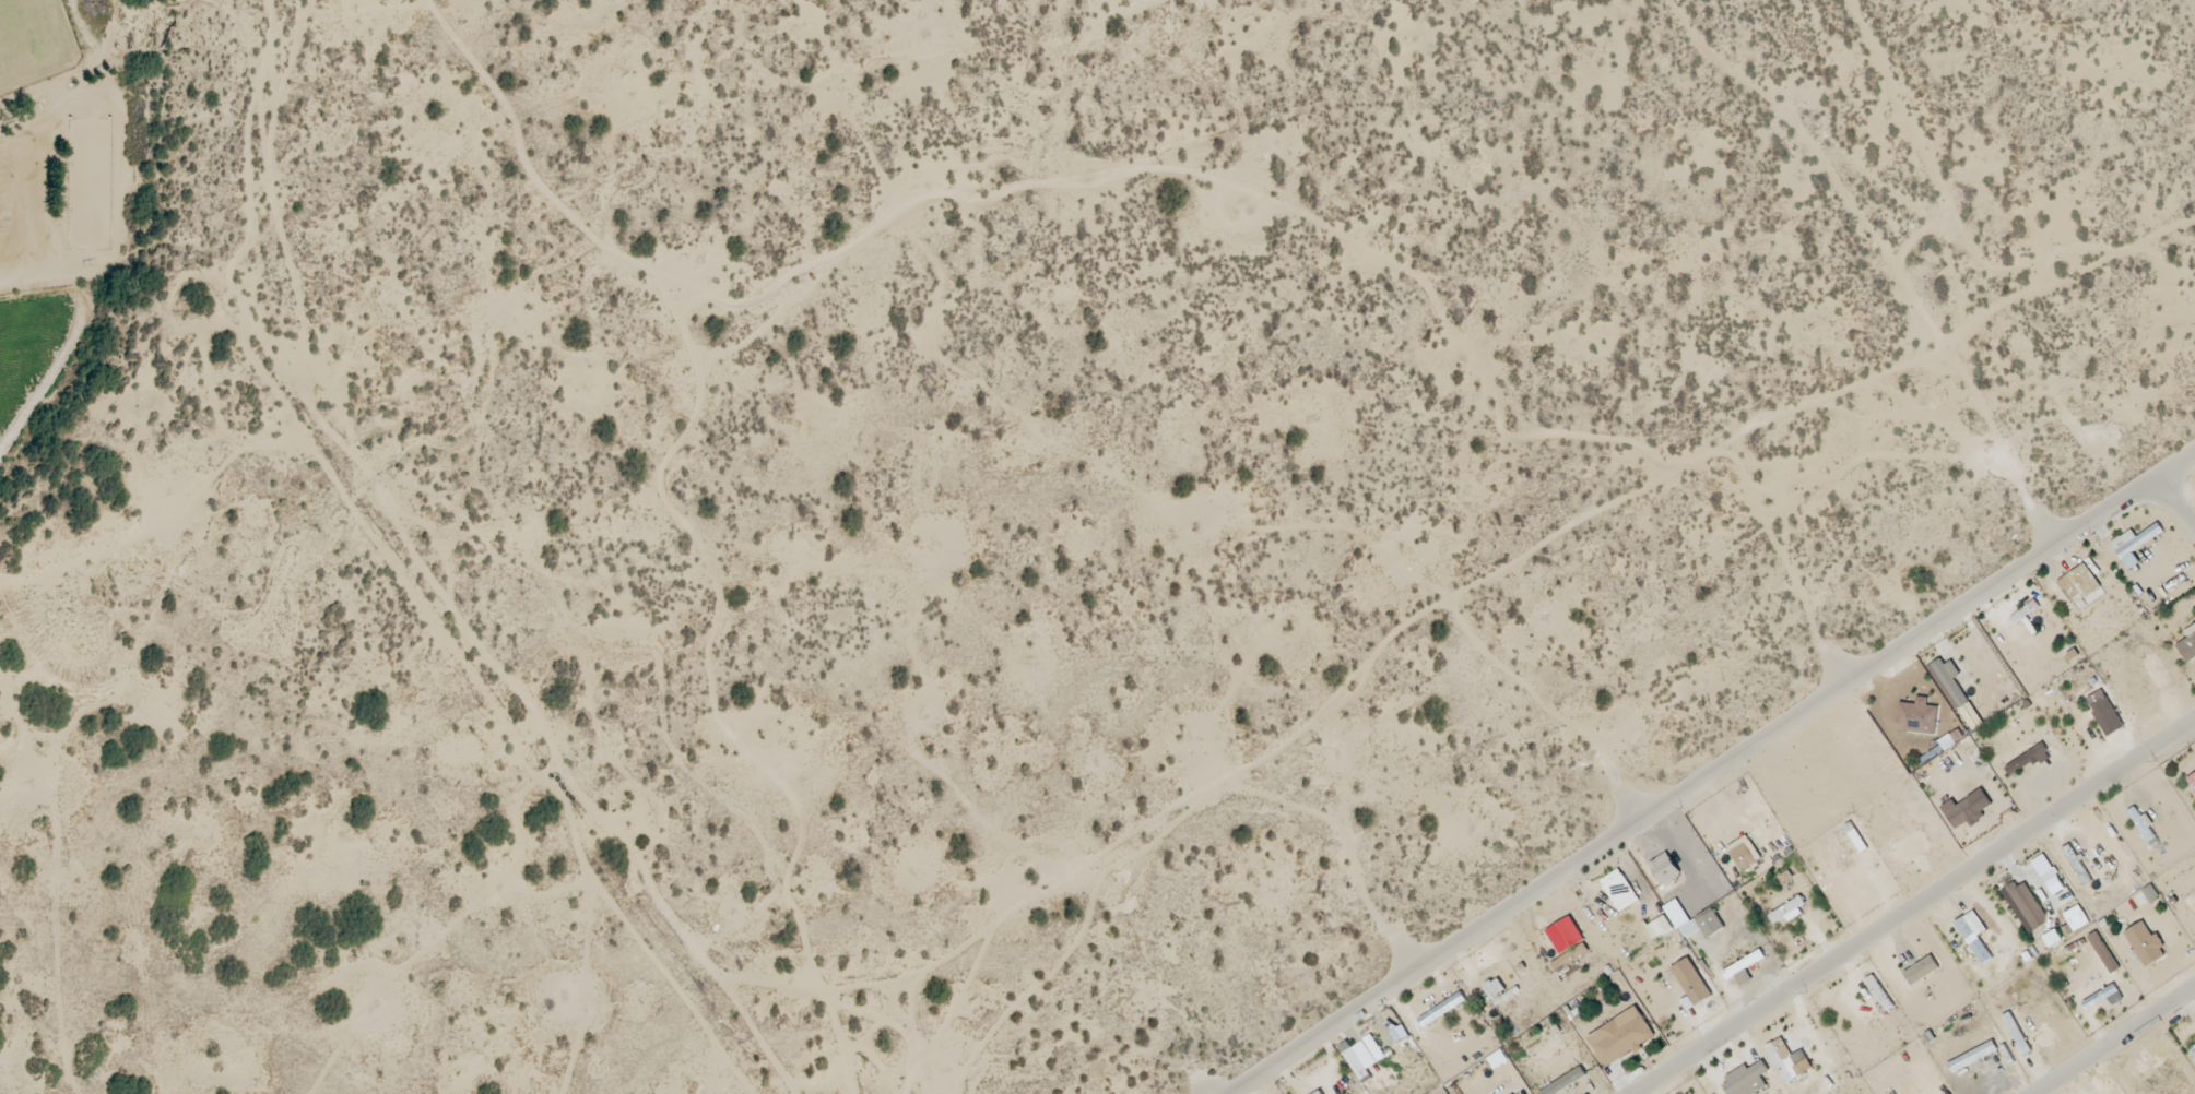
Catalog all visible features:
road: (2169, 485)
road: (2035, 513)
building: (2134, 545)
building: (2188, 645)
road: (1828, 651)
building: (1957, 692)
building: (2099, 701)
building: (1919, 716)
building: (1950, 739)
building: (2027, 759)
road: (1698, 762)
building: (2192, 782)
road: (1622, 789)
building: (1961, 813)
building: (2141, 824)
building: (1744, 857)
building: (1664, 869)
building: (2048, 875)
building: (1619, 890)
road: (1898, 895)
building: (2028, 906)
building: (1789, 911)
building: (2076, 918)
building: (1702, 925)
building: (1660, 928)
building: (1566, 936)
building: (1973, 936)
road: (1399, 938)
building: (2052, 939)
building: (2145, 944)
building: (1744, 965)
building: (1921, 971)
building: (1691, 982)
building: (1495, 992)
building: (2103, 998)
building: (1442, 1010)
road: (2098, 1030)
building: (1400, 1034)
building: (1621, 1037)
building: (2194, 1055)
building: (1972, 1057)
building: (1789, 1060)
road: (1197, 1072)
building: (1746, 1080)
building: (1319, 1093)

